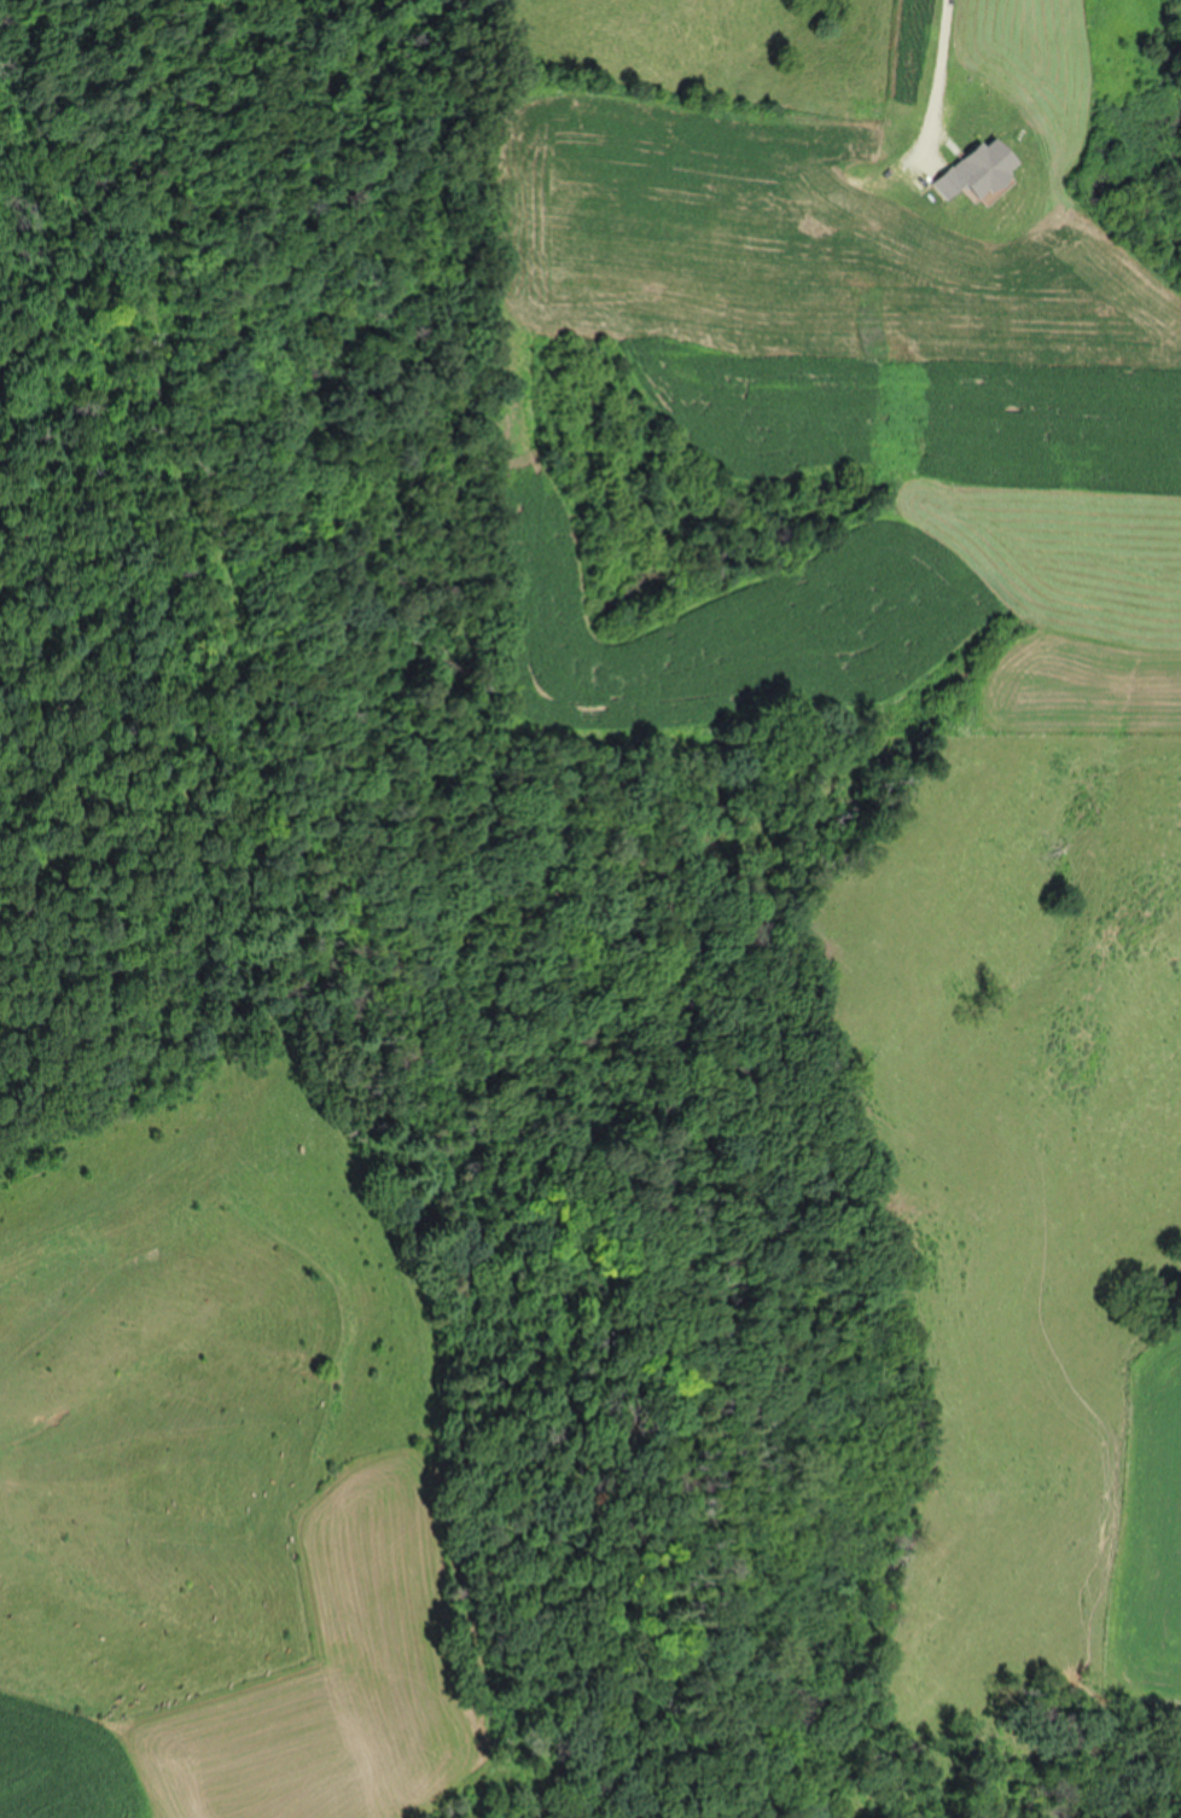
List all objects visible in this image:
road: (935, 68)

